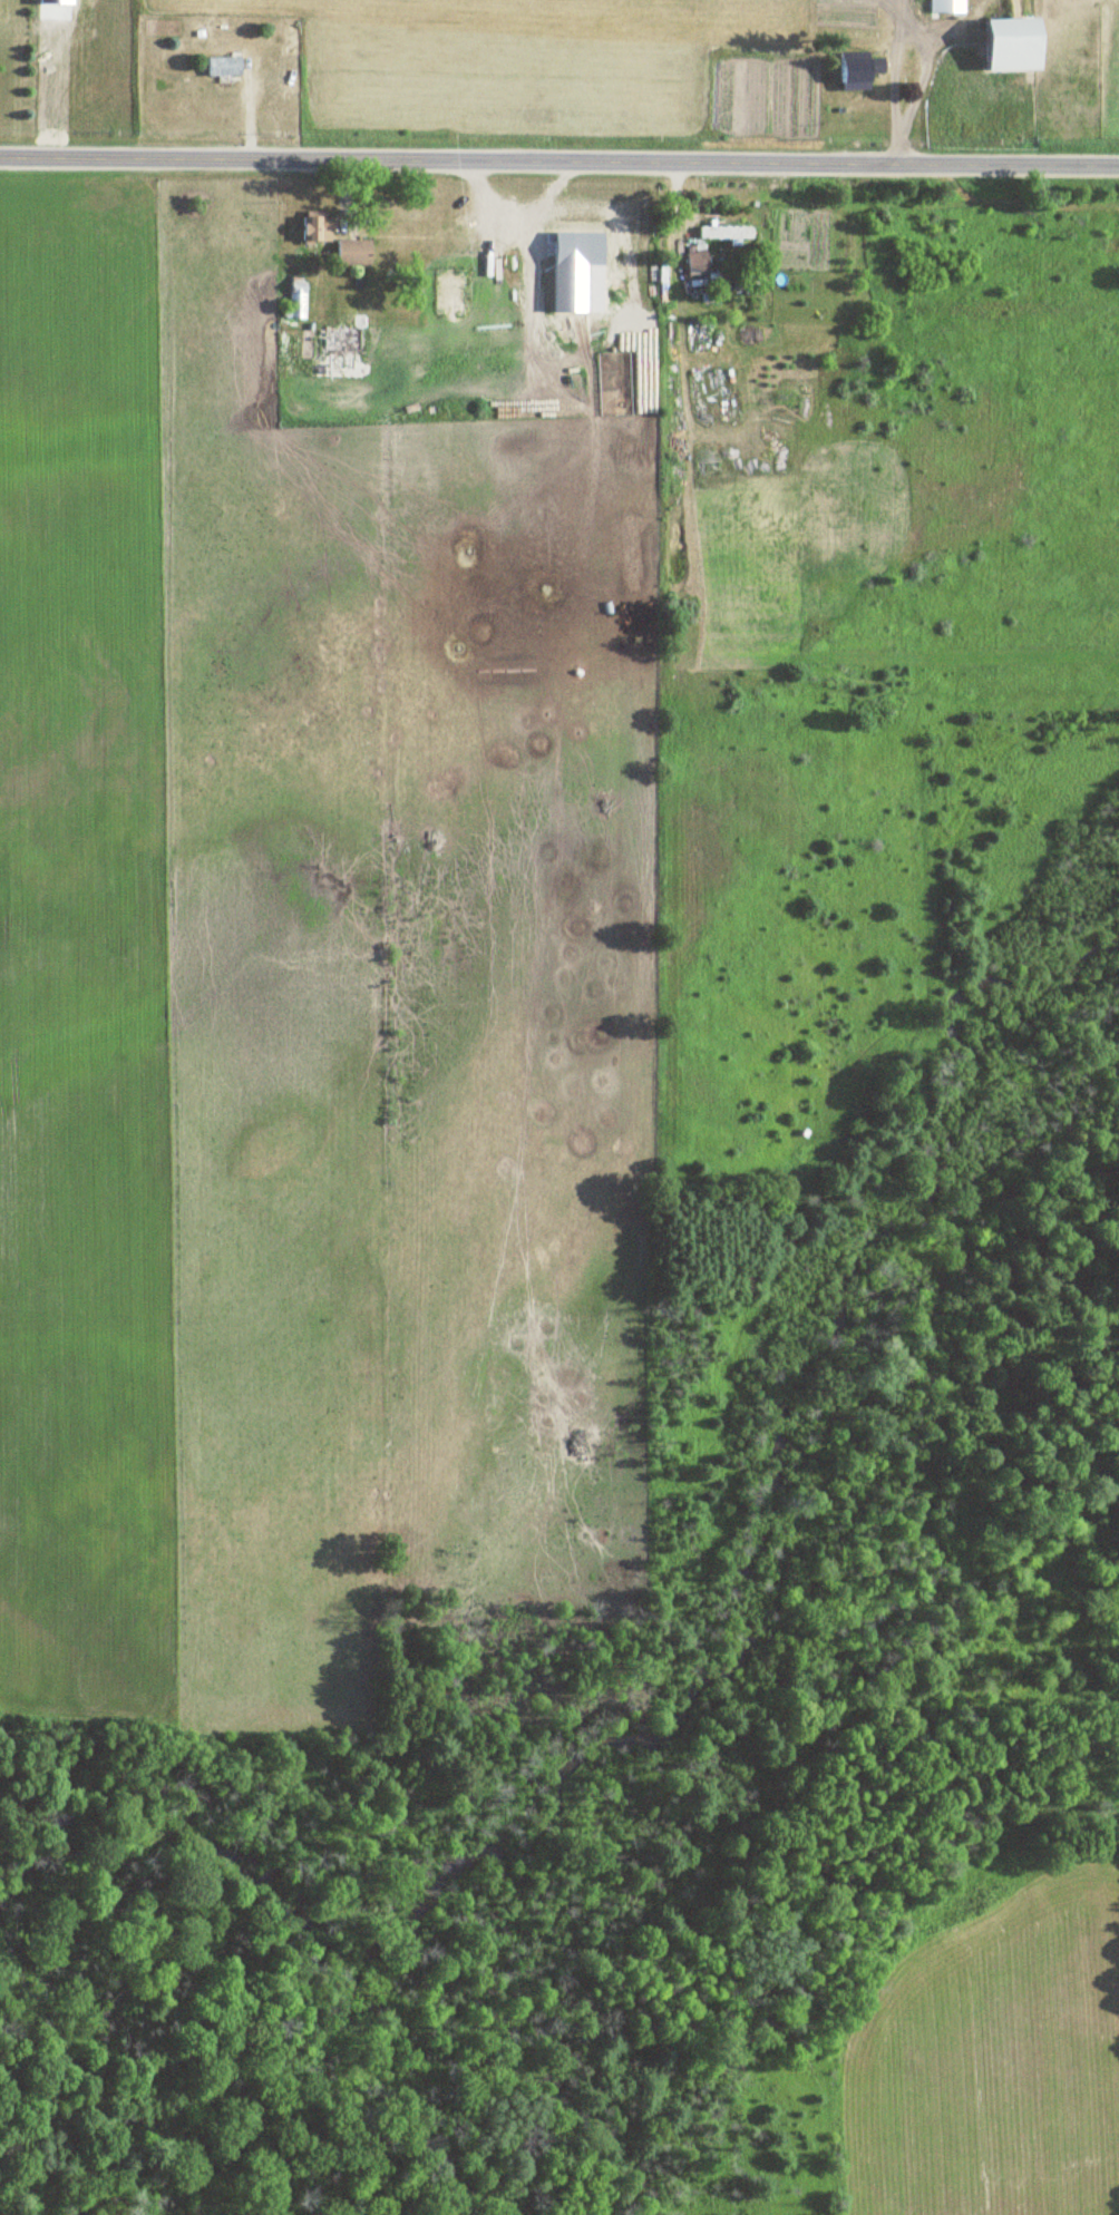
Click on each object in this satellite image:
building: (218, 66)
building: (860, 70)
road: (559, 162)
building: (311, 228)
building: (721, 232)
building: (348, 252)
building: (692, 263)
building: (292, 299)
building: (334, 340)

